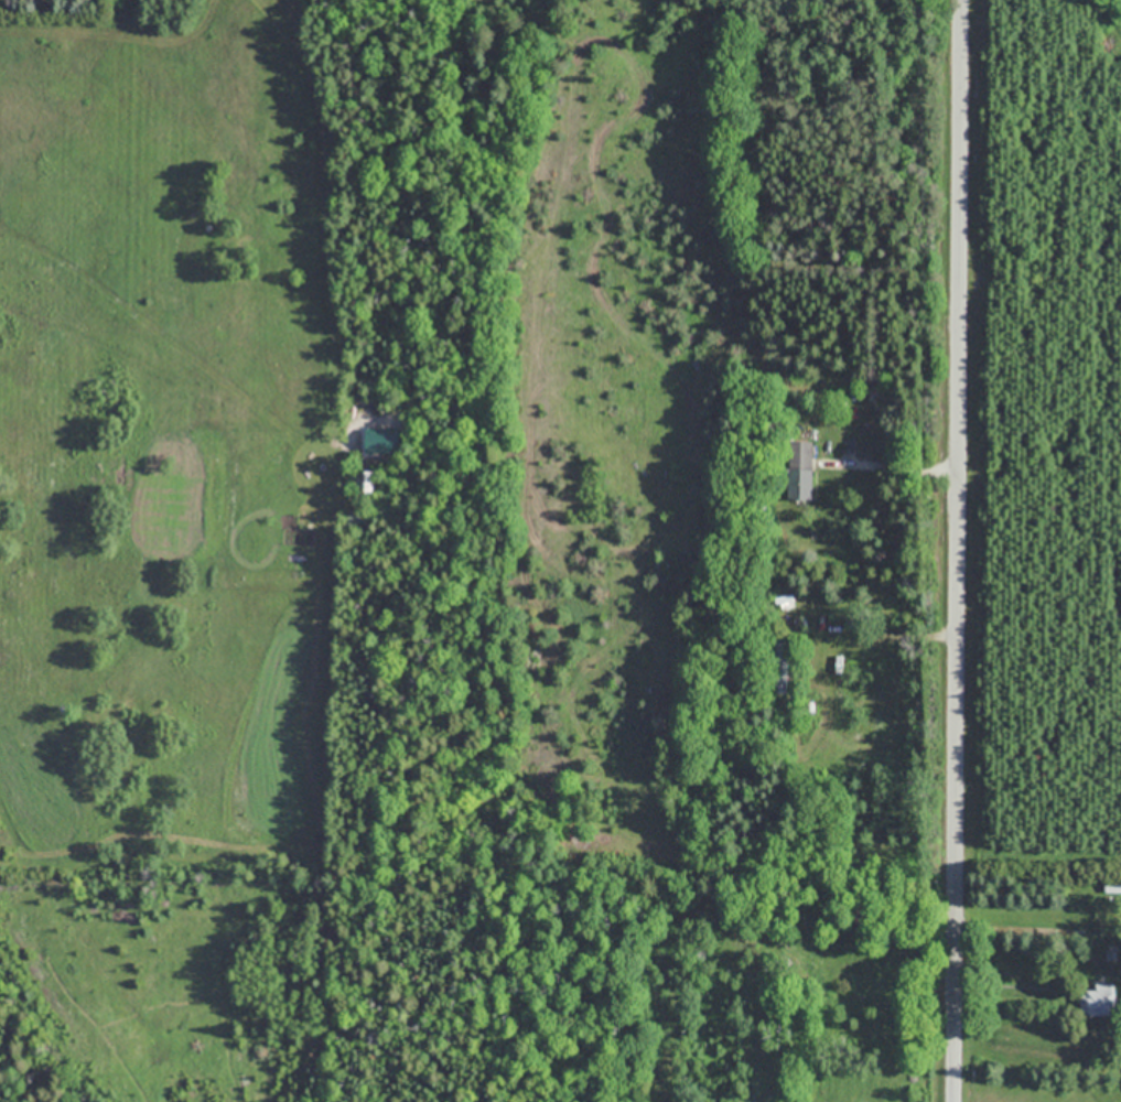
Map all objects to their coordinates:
road: (909, 464)
building: (799, 471)
road: (955, 550)
road: (898, 633)
building: (780, 667)
building: (1099, 1000)

